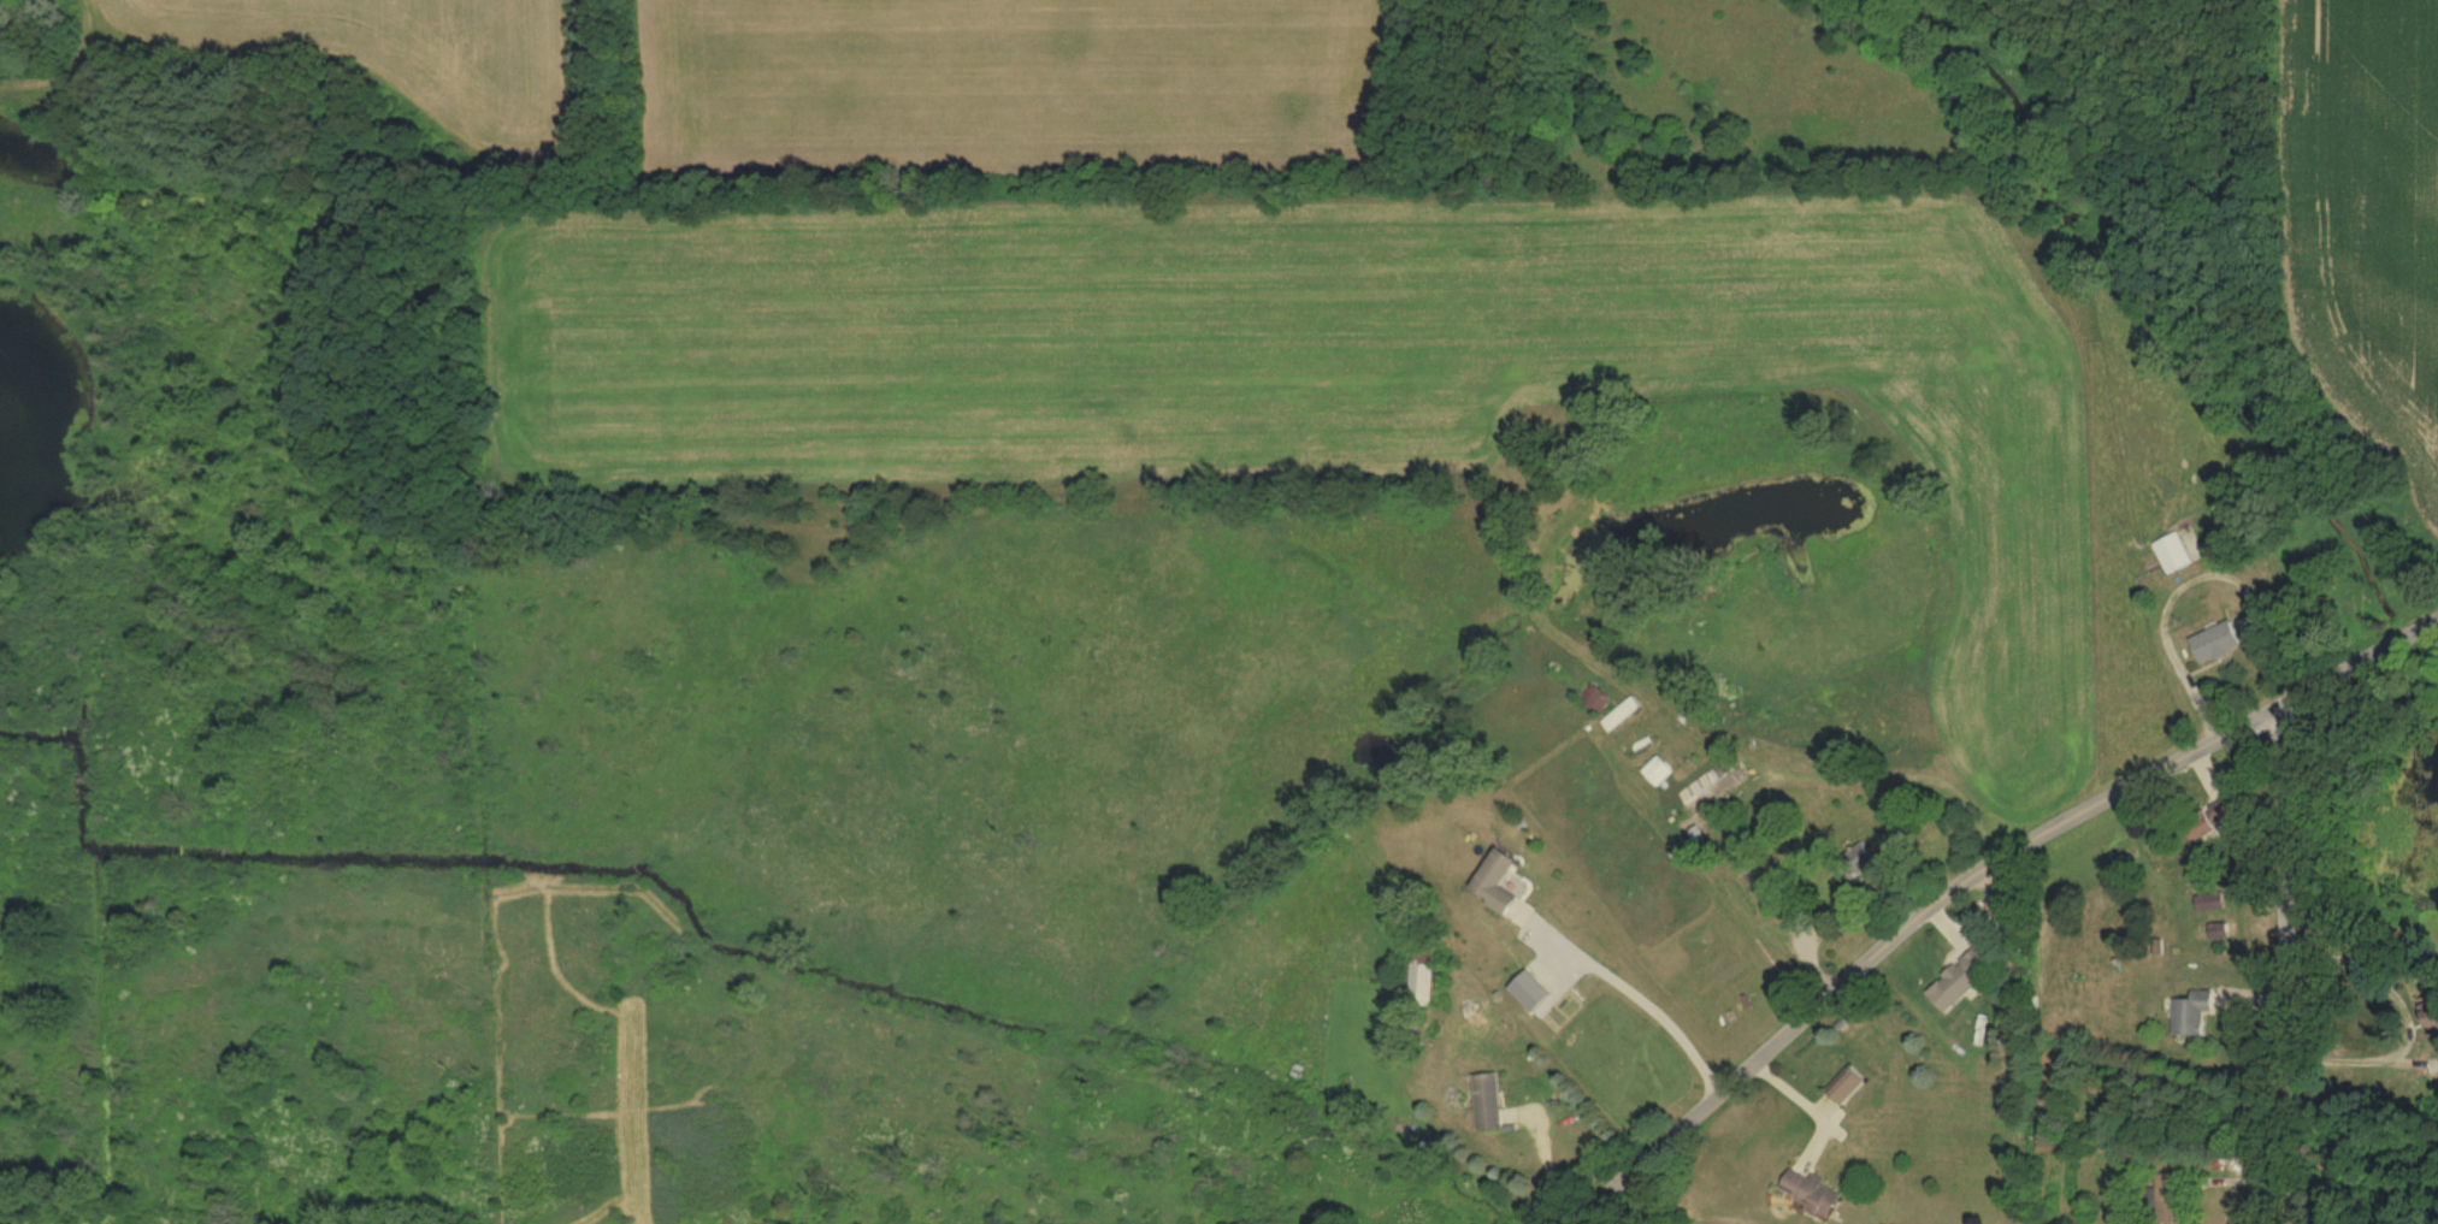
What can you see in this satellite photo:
building: (2176, 551)
building: (2220, 641)
building: (1728, 776)
building: (2209, 818)
building: (1861, 859)
road: (1970, 876)
building: (1499, 881)
building: (2209, 900)
building: (2008, 905)
building: (2218, 930)
road: (2286, 965)
building: (1421, 978)
building: (1958, 980)
road: (1637, 998)
building: (2432, 1010)
building: (2191, 1011)
road: (2410, 1016)
building: (1848, 1083)
building: (1488, 1098)
road: (2365, 1154)
building: (1811, 1190)
building: (2167, 1196)

